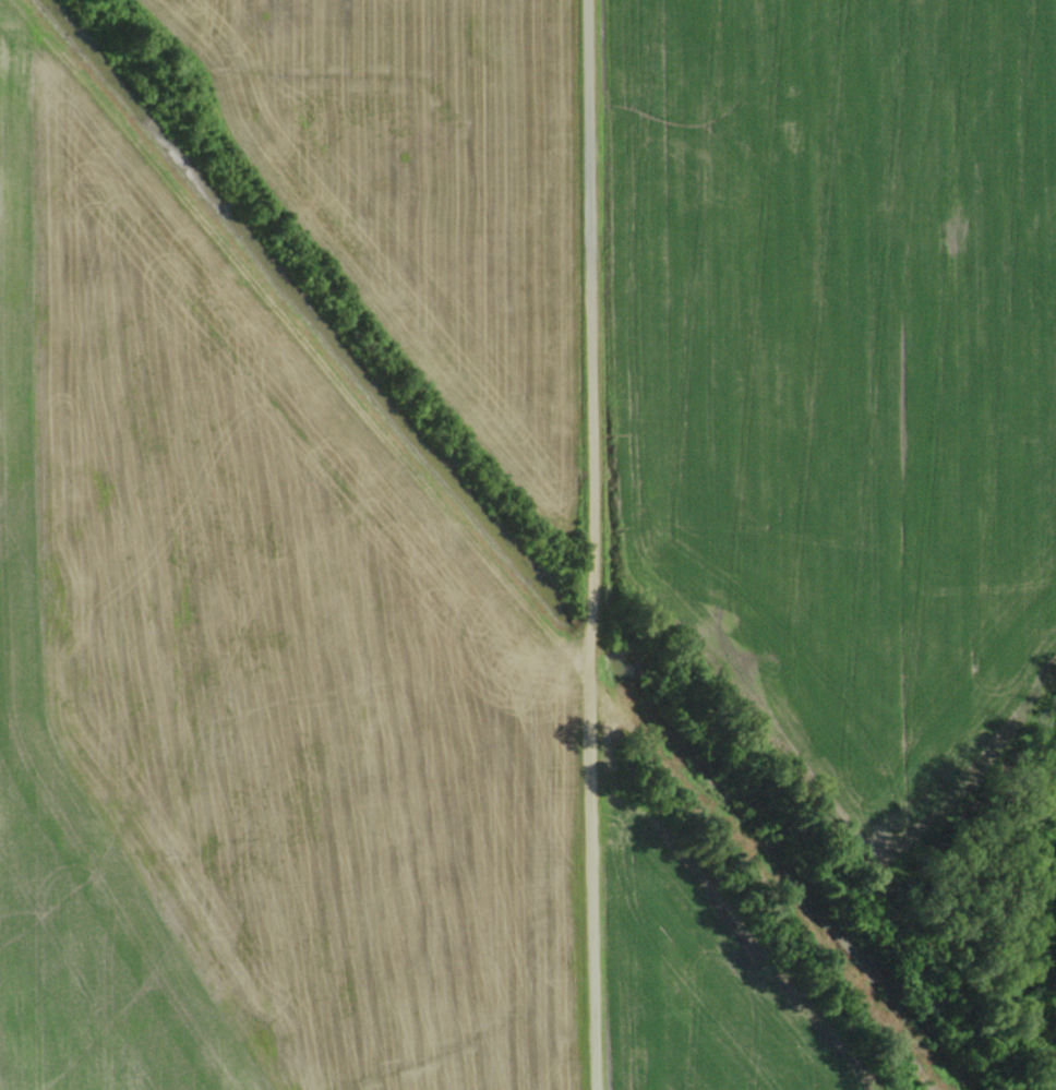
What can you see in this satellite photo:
road: (587, 544)

